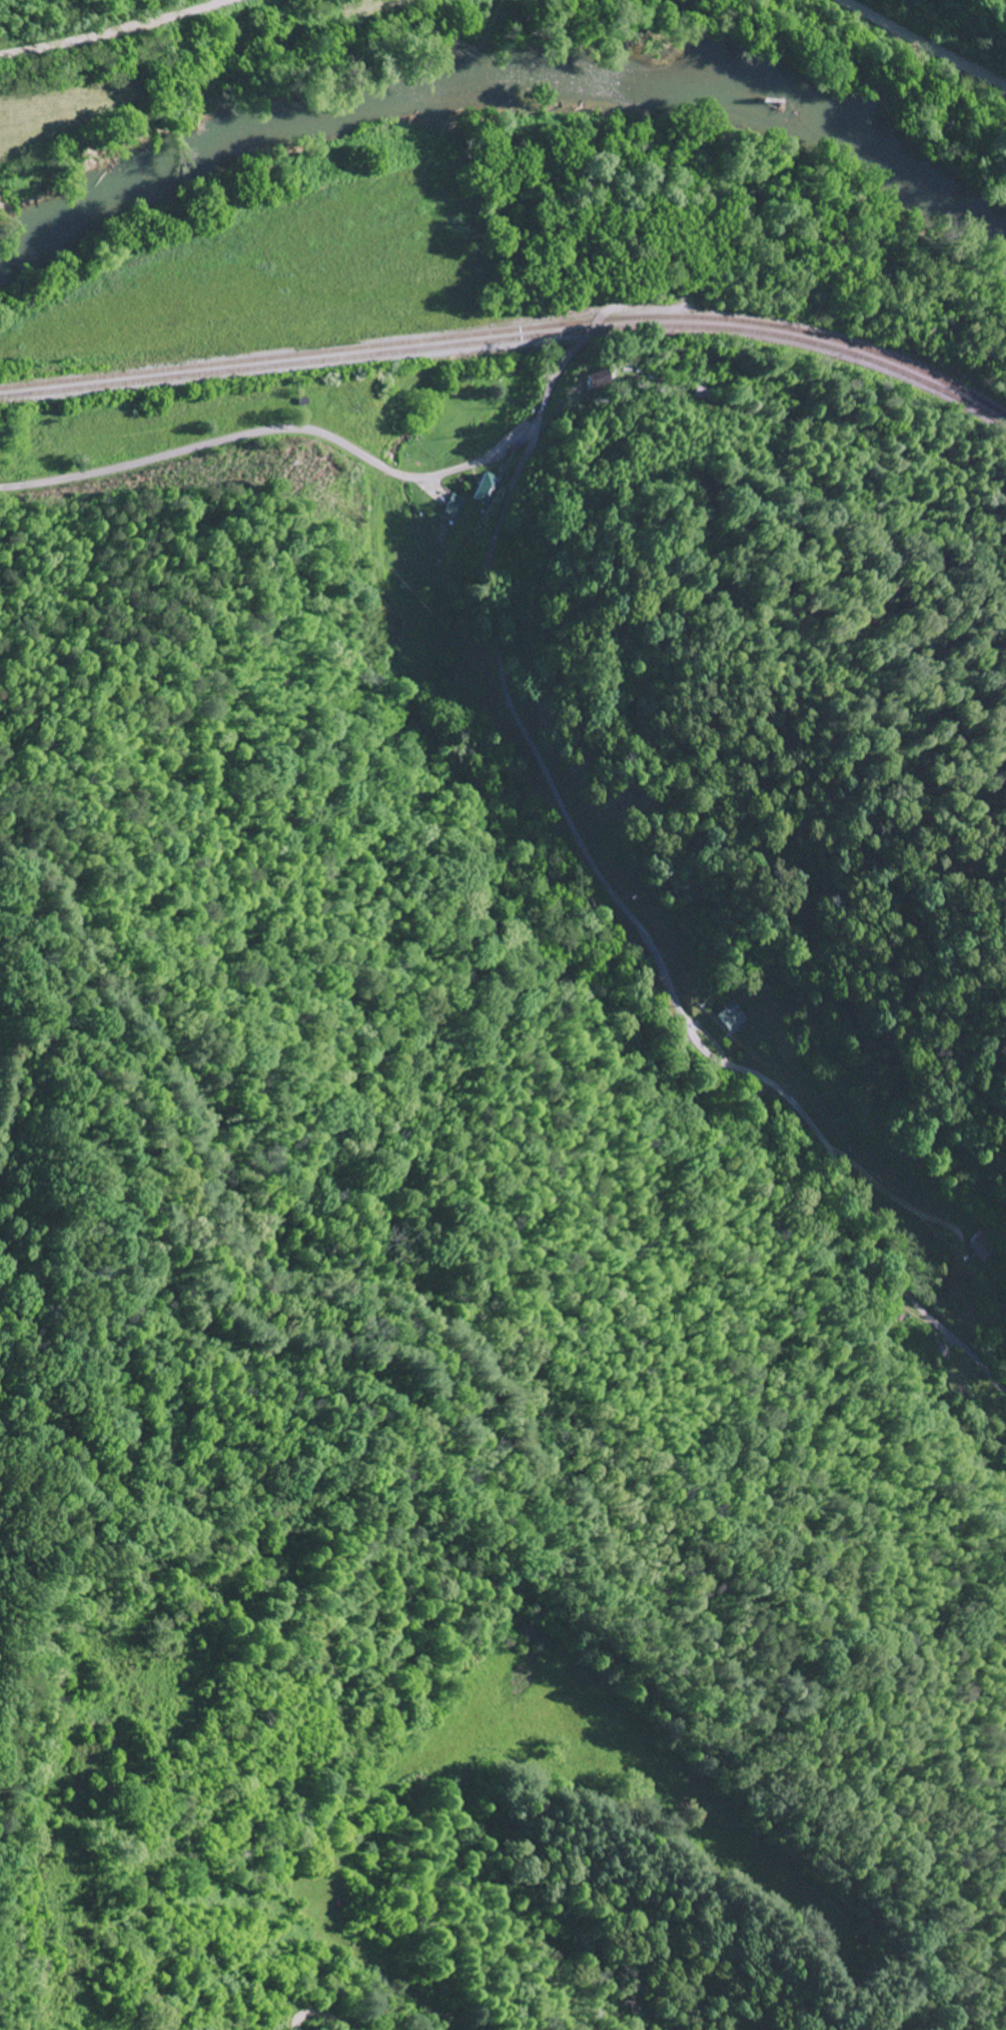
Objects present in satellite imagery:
road: (117, 30)
road: (924, 45)
river: (508, 93)
railway: (511, 332)
railway: (511, 340)
road: (552, 385)
road: (276, 432)
road: (778, 443)
building: (455, 506)
road: (659, 953)
building: (730, 1018)
building: (979, 1247)
building: (1004, 1448)

